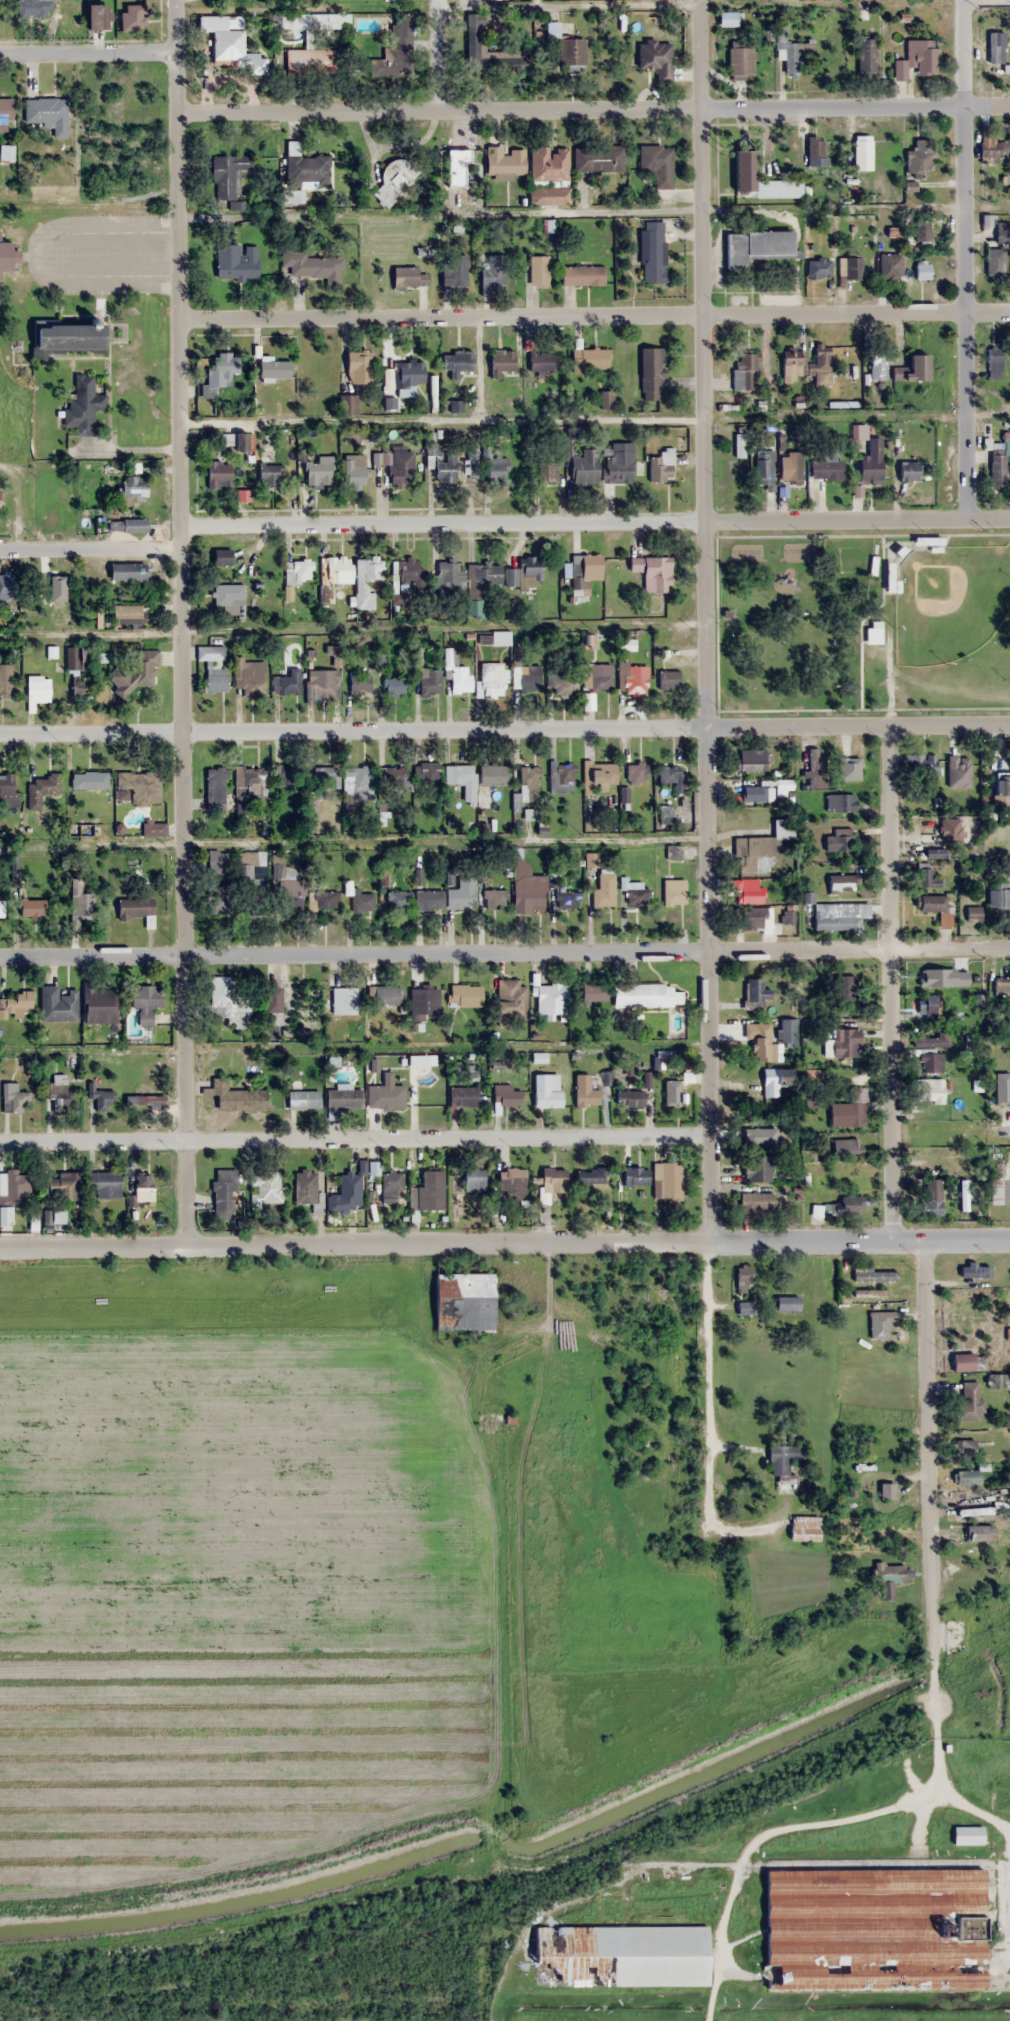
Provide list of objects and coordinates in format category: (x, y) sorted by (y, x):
building: (34, 8)
building: (95, 15)
building: (132, 16)
building: (292, 21)
building: (222, 36)
building: (398, 43)
building: (482, 46)
building: (794, 52)
road: (88, 53)
road: (438, 55)
building: (866, 57)
building: (655, 58)
building: (917, 58)
building: (307, 60)
building: (740, 60)
road: (986, 105)
road: (570, 109)
building: (4, 113)
building: (46, 113)
building: (990, 149)
building: (815, 150)
building: (862, 150)
building: (920, 157)
building: (598, 158)
building: (504, 160)
building: (549, 163)
building: (657, 163)
building: (743, 164)
building: (456, 167)
building: (307, 169)
building: (227, 174)
building: (395, 178)
building: (560, 196)
building: (921, 231)
building: (1002, 232)
building: (756, 246)
building: (381, 248)
building: (651, 251)
building: (5, 256)
road: (964, 258)
building: (236, 261)
building: (994, 262)
building: (311, 264)
building: (890, 265)
building: (818, 268)
building: (850, 268)
building: (454, 269)
building: (538, 270)
building: (921, 270)
building: (492, 271)
building: (581, 275)
building: (408, 277)
road: (594, 317)
building: (66, 336)
building: (821, 357)
building: (589, 359)
building: (541, 360)
building: (500, 362)
building: (994, 362)
building: (792, 364)
building: (877, 365)
building: (358, 366)
building: (744, 369)
building: (912, 369)
building: (220, 371)
building: (650, 373)
building: (404, 374)
building: (83, 403)
building: (348, 404)
building: (234, 440)
building: (738, 445)
building: (870, 461)
building: (617, 462)
building: (472, 464)
building: (661, 465)
building: (397, 466)
building: (583, 466)
building: (789, 467)
building: (997, 467)
building: (354, 468)
building: (445, 469)
building: (496, 469)
building: (546, 469)
building: (764, 469)
building: (826, 469)
building: (908, 471)
building: (316, 472)
building: (218, 474)
building: (270, 474)
building: (132, 487)
road: (595, 522)
building: (126, 524)
road: (90, 548)
building: (221, 556)
building: (126, 571)
building: (586, 571)
building: (296, 572)
building: (654, 572)
building: (330, 573)
building: (525, 574)
building: (447, 575)
building: (486, 575)
building: (365, 583)
building: (54, 585)
building: (4, 586)
building: (227, 598)
building: (125, 614)
road: (704, 622)
road: (180, 623)
building: (873, 631)
building: (216, 653)
building: (76, 658)
building: (137, 673)
building: (249, 677)
building: (596, 677)
building: (5, 678)
building: (526, 678)
building: (215, 679)
building: (491, 679)
building: (633, 679)
building: (668, 679)
building: (458, 680)
building: (359, 681)
building: (429, 681)
building: (322, 682)
building: (286, 683)
building: (560, 684)
building: (393, 685)
building: (80, 688)
building: (36, 691)
road: (504, 728)
building: (750, 760)
building: (922, 766)
building: (850, 767)
building: (425, 772)
building: (635, 772)
building: (459, 774)
building: (493, 774)
building: (598, 774)
building: (284, 775)
building: (670, 775)
building: (324, 777)
building: (395, 777)
building: (561, 777)
building: (89, 780)
building: (249, 780)
building: (357, 781)
building: (528, 783)
building: (784, 784)
building: (140, 786)
building: (215, 788)
building: (42, 789)
building: (8, 790)
building: (1001, 790)
building: (753, 794)
building: (840, 802)
building: (665, 815)
building: (152, 829)
building: (949, 829)
building: (838, 839)
building: (761, 849)
building: (245, 872)
building: (925, 876)
building: (842, 883)
building: (531, 890)
building: (603, 890)
building: (674, 891)
building: (750, 891)
building: (461, 893)
building: (289, 894)
building: (636, 894)
building: (220, 897)
building: (566, 897)
building: (494, 898)
building: (80, 900)
building: (324, 900)
building: (397, 900)
building: (427, 900)
building: (999, 900)
building: (360, 901)
building: (934, 906)
building: (134, 907)
building: (1, 908)
building: (32, 908)
building: (973, 913)
building: (835, 917)
building: (755, 918)
road: (504, 951)
road: (889, 984)
building: (756, 990)
building: (844, 990)
building: (594, 993)
building: (1003, 993)
building: (508, 994)
building: (385, 995)
building: (465, 995)
building: (645, 995)
building: (551, 998)
building: (980, 999)
building: (229, 1000)
building: (342, 1001)
building: (145, 1002)
building: (422, 1002)
building: (57, 1004)
building: (98, 1004)
building: (14, 1005)
building: (271, 1006)
building: (927, 1007)
building: (787, 1030)
building: (930, 1040)
building: (760, 1041)
building: (841, 1042)
building: (929, 1062)
building: (813, 1074)
building: (998, 1081)
building: (766, 1086)
building: (546, 1090)
building: (585, 1090)
building: (928, 1090)
building: (668, 1091)
building: (56, 1092)
building: (385, 1094)
building: (505, 1095)
building: (463, 1096)
building: (13, 1097)
building: (628, 1098)
building: (239, 1099)
building: (302, 1099)
building: (343, 1099)
building: (101, 1100)
building: (144, 1101)
building: (849, 1110)
road: (986, 1135)
building: (756, 1136)
road: (355, 1138)
building: (847, 1147)
building: (757, 1168)
building: (590, 1176)
building: (634, 1176)
building: (553, 1180)
building: (511, 1181)
building: (669, 1181)
building: (104, 1183)
building: (58, 1185)
building: (265, 1185)
building: (142, 1186)
building: (391, 1186)
building: (466, 1186)
building: (306, 1187)
building: (995, 1190)
building: (427, 1192)
building: (346, 1193)
building: (224, 1194)
building: (11, 1195)
building: (930, 1198)
building: (755, 1202)
building: (848, 1205)
road: (505, 1245)
building: (874, 1276)
building: (743, 1278)
building: (871, 1293)
building: (463, 1301)
building: (786, 1303)
building: (879, 1324)
building: (966, 1362)
building: (649, 1403)
building: (968, 1403)
building: (963, 1448)
building: (633, 1453)
road: (928, 1453)
building: (784, 1466)
building: (966, 1476)
building: (886, 1491)
building: (974, 1511)
building: (804, 1528)
building: (889, 1578)
railway: (944, 1721)
road: (942, 1765)
building: (966, 1835)
road: (738, 1845)
road: (922, 1863)
building: (873, 1929)
building: (619, 1955)

